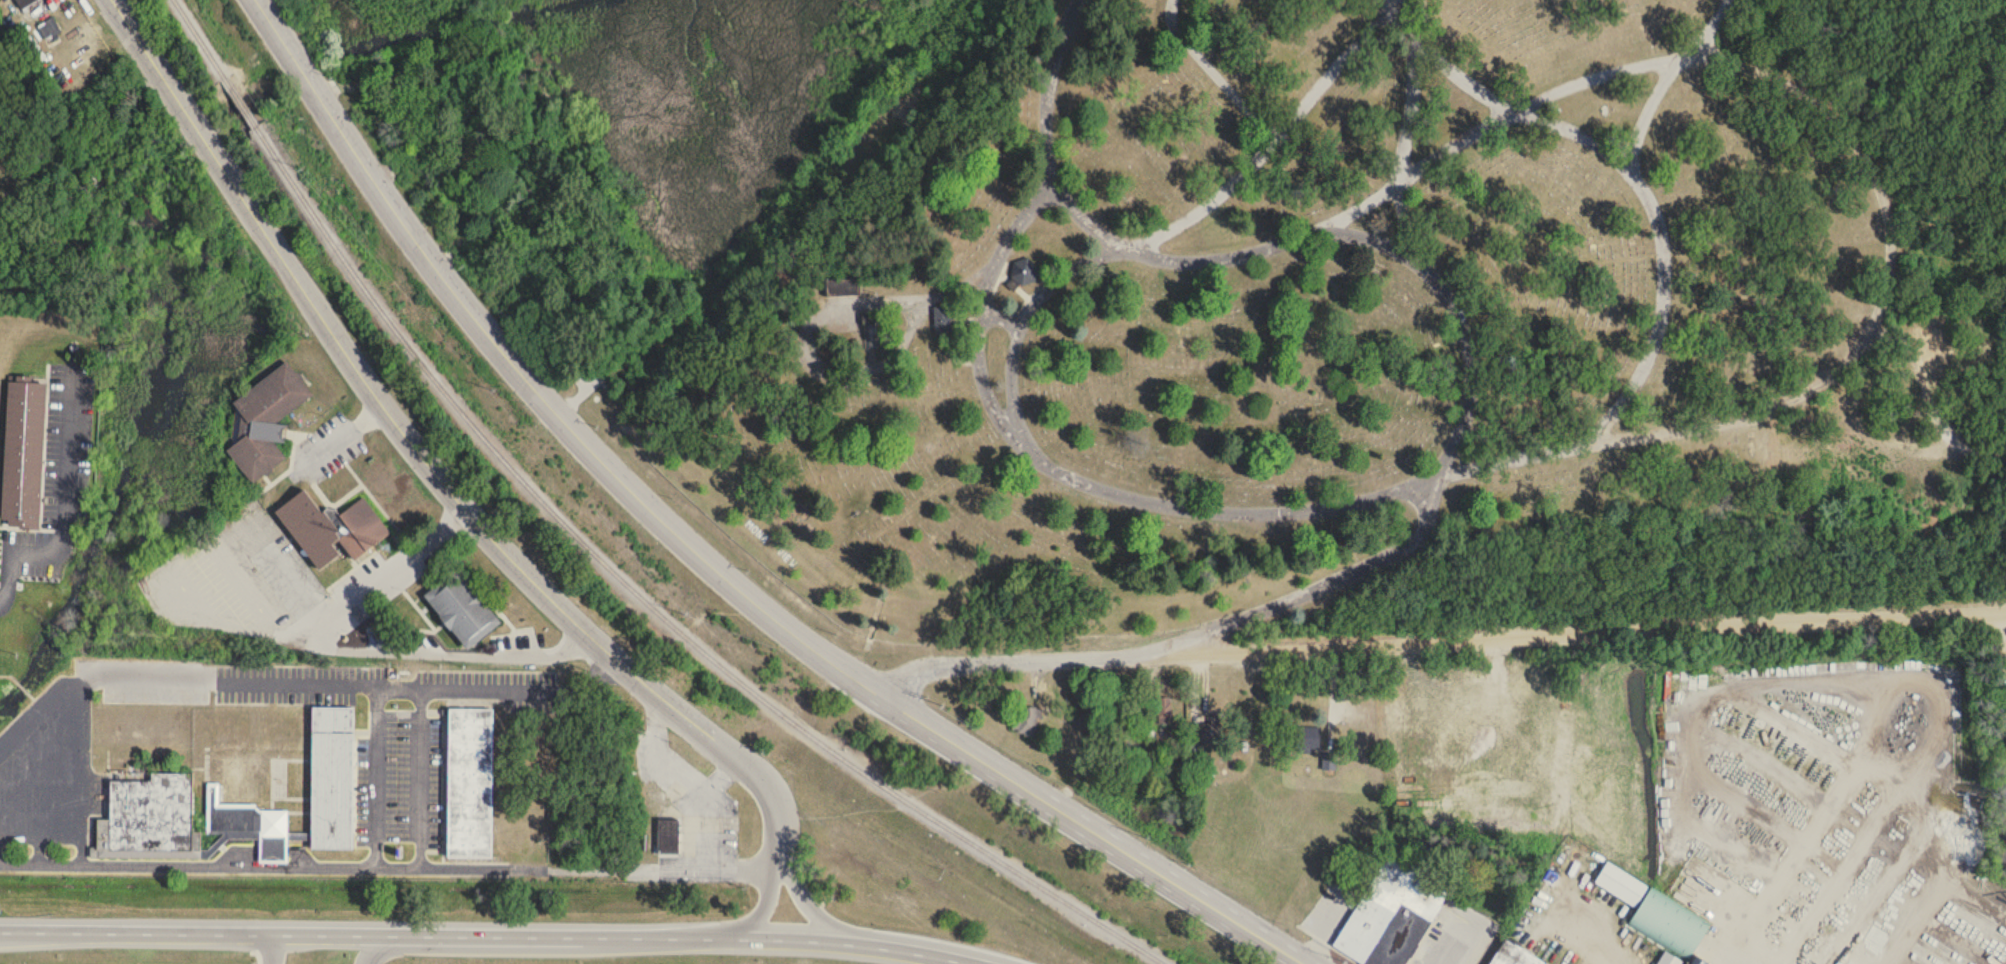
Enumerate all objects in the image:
building: (25, 3)
river: (447, 25)
road: (1714, 28)
building: (47, 29)
railway: (197, 39)
river: (304, 71)
road: (1215, 74)
road: (1049, 90)
road: (1543, 100)
railway: (239, 104)
river: (257, 106)
road: (1408, 128)
road: (1847, 133)
road: (1477, 138)
river: (201, 145)
road: (1179, 226)
building: (1025, 272)
building: (841, 286)
park: (1405, 313)
road: (815, 319)
building: (943, 322)
building: (869, 332)
building: (265, 421)
river: (143, 428)
road: (341, 434)
building: (23, 451)
road: (423, 458)
road: (1441, 468)
road: (1372, 500)
road: (68, 512)
building: (330, 530)
road: (269, 544)
road: (179, 555)
road: (708, 559)
road: (376, 576)
railway: (653, 606)
building: (461, 609)
road: (1440, 636)
road: (446, 653)
road: (230, 680)
road: (460, 684)
building: (1164, 711)
building: (1025, 722)
building: (1209, 739)
building: (1308, 739)
road: (421, 776)
building: (468, 784)
building: (331, 786)
building: (149, 821)
building: (667, 838)
road: (391, 869)
building: (1620, 885)
building: (1390, 917)
road: (744, 923)
building: (1669, 924)
road: (391, 933)
road: (889, 934)
road: (1585, 942)
road: (266, 943)
road: (1451, 945)
road: (490, 946)
road: (879, 946)
building: (1524, 958)
building: (1669, 959)
road: (1728, 960)

